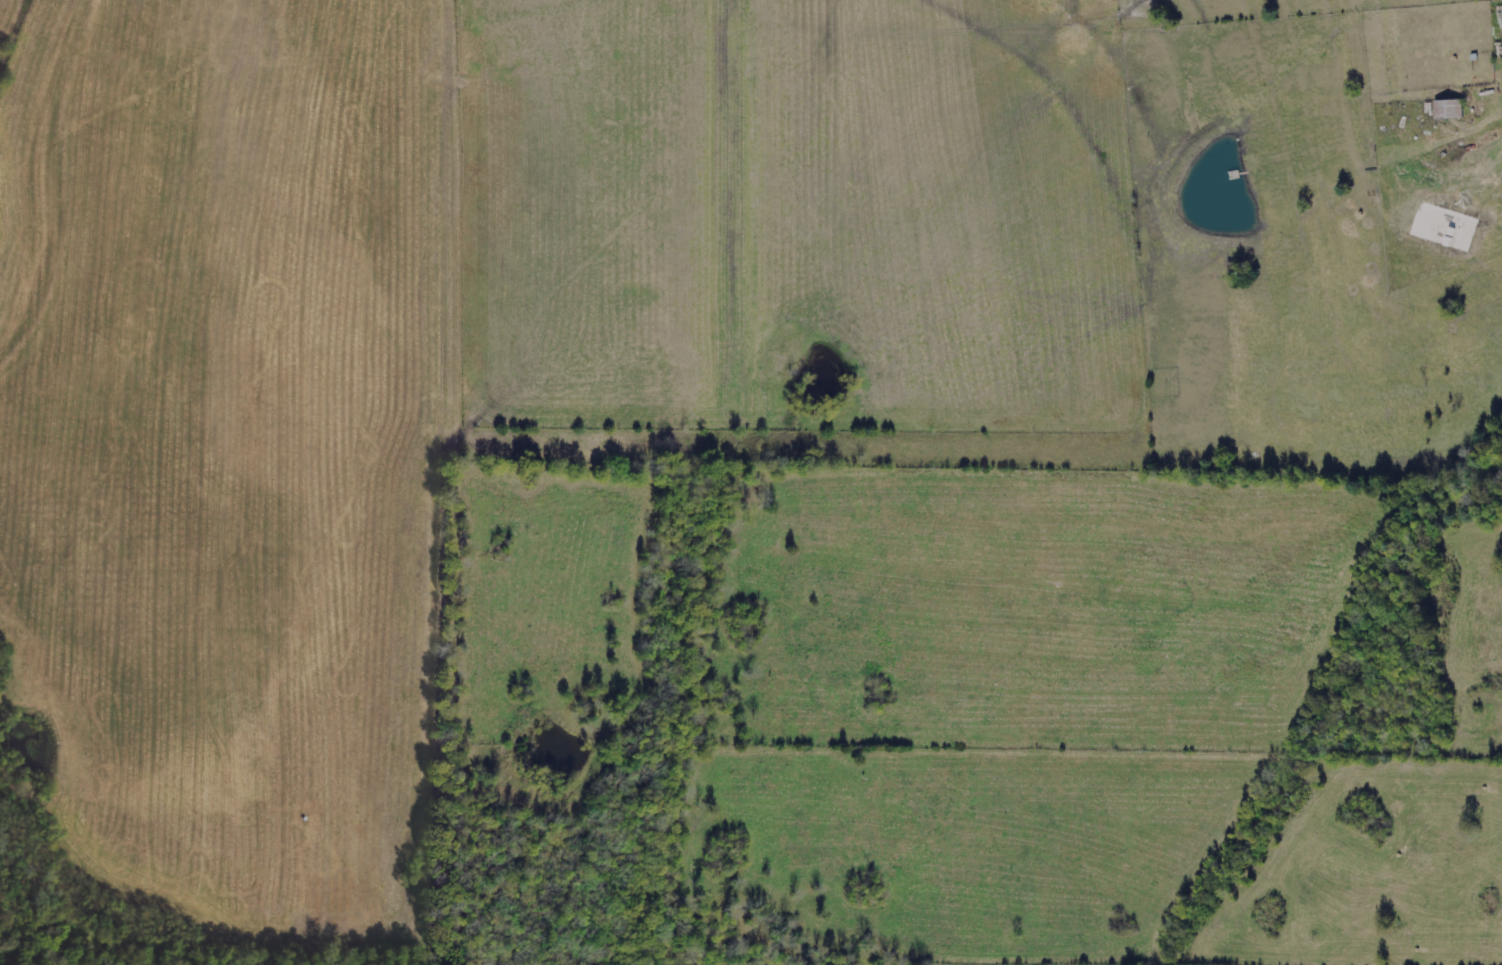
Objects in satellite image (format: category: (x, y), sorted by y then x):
building: (1449, 111)
road: (1482, 127)

